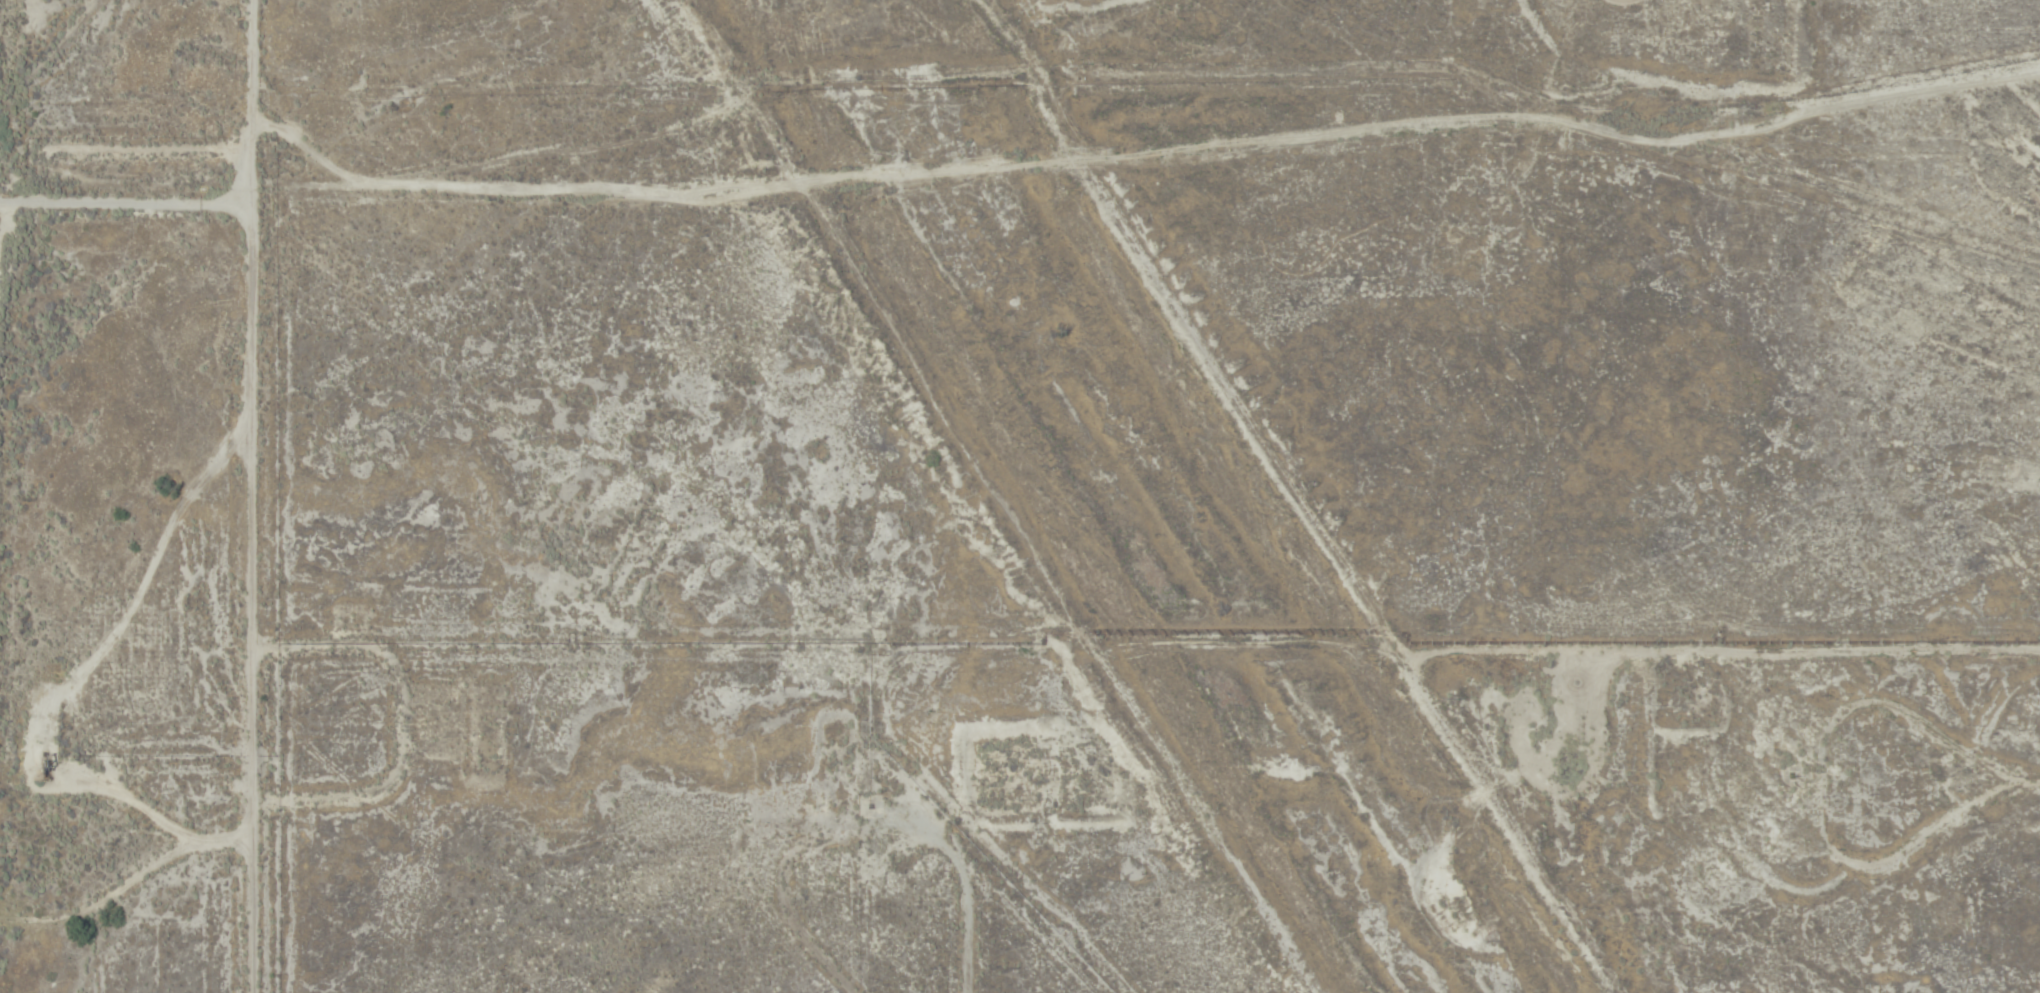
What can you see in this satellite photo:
road: (1708, 206)
road: (1418, 209)
road: (365, 214)
road: (1177, 265)
road: (251, 497)
road: (1011, 616)
road: (394, 785)
road: (2020, 831)
road: (1926, 871)
road: (157, 887)
road: (876, 914)
road: (136, 925)

